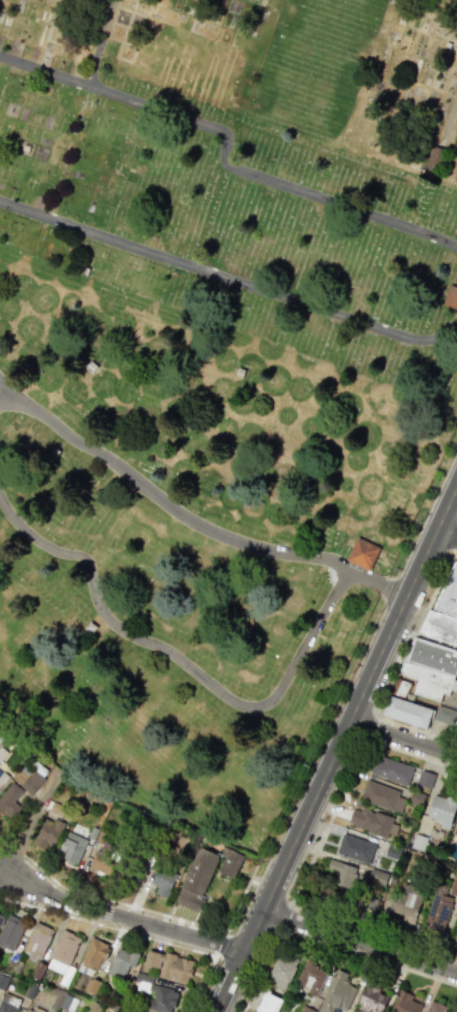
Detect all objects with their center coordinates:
road: (99, 42)
park: (280, 64)
road: (448, 116)
road: (226, 153)
building: (434, 160)
park: (230, 219)
road: (228, 280)
building: (451, 294)
road: (2, 391)
road: (445, 535)
park: (190, 545)
road: (454, 545)
building: (363, 551)
road: (374, 581)
building: (449, 596)
road: (319, 619)
building: (439, 626)
building: (433, 655)
road: (396, 669)
building: (427, 679)
building: (403, 683)
building: (407, 709)
building: (445, 714)
road: (402, 737)
road: (335, 746)
road: (411, 753)
building: (392, 767)
building: (426, 777)
building: (3, 779)
building: (32, 782)
building: (382, 794)
building: (416, 796)
building: (11, 799)
building: (443, 808)
road: (332, 810)
road: (33, 817)
building: (374, 820)
building: (455, 827)
building: (48, 832)
building: (419, 839)
building: (74, 844)
building: (356, 847)
building: (393, 851)
building: (104, 857)
building: (229, 863)
road: (30, 875)
building: (341, 875)
building: (376, 879)
building: (196, 880)
building: (163, 881)
building: (454, 883)
road: (240, 898)
building: (409, 899)
building: (370, 902)
building: (438, 909)
building: (0, 915)
road: (283, 915)
road: (120, 917)
road: (373, 931)
building: (10, 932)
building: (455, 934)
building: (37, 941)
road: (359, 941)
road: (218, 943)
building: (94, 953)
building: (64, 955)
road: (214, 956)
road: (368, 956)
road: (212, 958)
building: (122, 962)
building: (170, 966)
building: (283, 967)
road: (259, 969)
building: (311, 975)
building: (3, 981)
road: (200, 987)
building: (336, 991)
building: (159, 994)
building: (371, 996)
building: (269, 1001)
building: (407, 1003)
building: (8, 1005)
building: (435, 1006)
building: (306, 1009)
building: (28, 1010)

